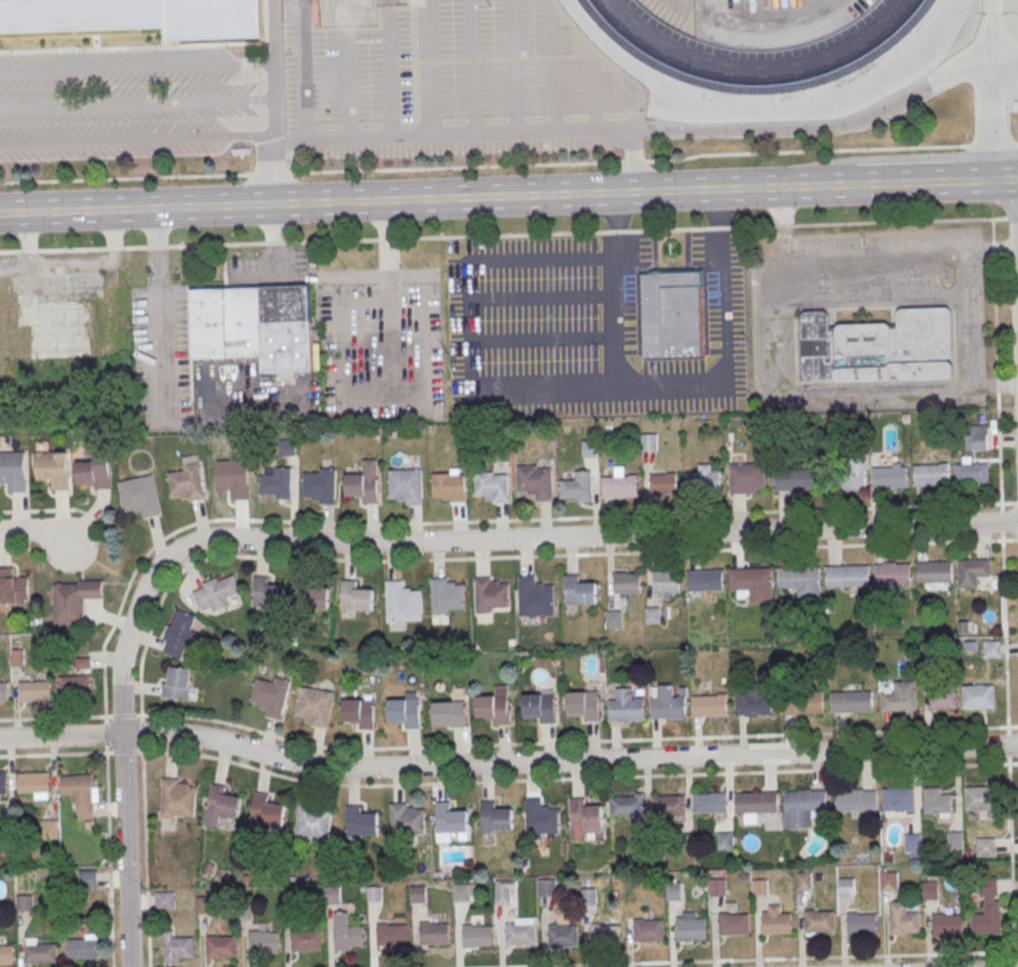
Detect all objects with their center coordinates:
building: (137, 16)
road: (301, 38)
road: (136, 65)
road: (1006, 67)
road: (516, 68)
parking lot: (448, 69)
road: (475, 69)
road: (432, 70)
raceway: (757, 71)
road: (556, 75)
road: (995, 89)
road: (597, 98)
road: (137, 102)
parking lot: (125, 106)
road: (636, 113)
road: (823, 127)
road: (274, 137)
road: (484, 138)
road: (137, 141)
road: (509, 168)
road: (1007, 179)
road: (929, 182)
road: (791, 186)
road: (360, 199)
road: (509, 235)
road: (254, 275)
road: (389, 302)
road: (160, 311)
building: (671, 316)
building: (255, 326)
parking lot: (584, 329)
building: (880, 347)
parking lot: (377, 348)
parking lot: (161, 353)
road: (671, 388)
building: (977, 437)
building: (649, 443)
building: (590, 449)
building: (54, 470)
building: (14, 472)
building: (96, 473)
building: (972, 474)
building: (931, 475)
building: (747, 478)
building: (890, 478)
building: (234, 479)
building: (189, 480)
building: (796, 480)
building: (844, 480)
building: (536, 482)
building: (277, 483)
building: (365, 483)
building: (663, 483)
building: (703, 483)
building: (321, 486)
building: (407, 486)
building: (449, 487)
building: (493, 487)
building: (578, 487)
building: (620, 487)
building: (141, 496)
road: (48, 509)
road: (625, 515)
road: (1001, 521)
road: (38, 531)
road: (497, 539)
road: (13, 548)
road: (495, 556)
building: (934, 572)
building: (972, 572)
building: (893, 574)
building: (847, 577)
building: (706, 581)
building: (667, 582)
building: (800, 583)
building: (628, 584)
building: (753, 584)
building: (14, 588)
building: (580, 592)
building: (218, 593)
building: (268, 594)
building: (490, 595)
building: (312, 596)
building: (447, 597)
building: (535, 597)
building: (357, 599)
building: (75, 601)
building: (403, 603)
building: (653, 616)
building: (614, 620)
building: (180, 635)
building: (991, 651)
road: (1005, 656)
building: (927, 669)
building: (177, 684)
building: (76, 685)
building: (34, 690)
building: (4, 691)
building: (271, 696)
building: (978, 697)
building: (900, 699)
building: (943, 699)
building: (755, 703)
building: (852, 703)
building: (803, 704)
building: (584, 705)
building: (668, 705)
building: (710, 706)
building: (315, 707)
building: (495, 707)
building: (540, 707)
building: (626, 707)
building: (405, 712)
building: (360, 714)
building: (450, 714)
road: (106, 734)
road: (578, 742)
road: (507, 763)
road: (465, 781)
building: (33, 782)
building: (3, 783)
building: (80, 794)
building: (980, 799)
building: (177, 800)
building: (857, 800)
building: (899, 800)
building: (937, 803)
building: (711, 804)
building: (758, 804)
building: (220, 806)
building: (628, 807)
building: (669, 807)
building: (802, 809)
building: (265, 816)
building: (541, 817)
building: (496, 818)
building: (586, 819)
building: (451, 820)
building: (313, 821)
building: (406, 821)
building: (361, 823)
building: (50, 830)
building: (9, 831)
building: (726, 842)
building: (955, 842)
building: (684, 843)
building: (643, 844)
building: (913, 844)
building: (987, 848)
road: (125, 851)
road: (109, 859)
road: (1011, 865)
building: (89, 880)
building: (804, 883)
building: (889, 883)
building: (717, 888)
building: (760, 888)
building: (545, 889)
building: (847, 889)
building: (674, 892)
building: (931, 892)
building: (462, 893)
building: (374, 895)
building: (333, 896)
building: (418, 896)
building: (504, 897)
building: (589, 898)
building: (165, 902)
building: (290, 902)
building: (24, 903)
building: (204, 906)
building: (989, 910)
building: (819, 923)
building: (905, 923)
building: (776, 924)
building: (734, 925)
building: (862, 925)
building: (947, 926)
building: (691, 929)
building: (648, 931)
building: (347, 934)
building: (434, 934)
building: (391, 935)
building: (520, 935)
building: (477, 936)
building: (606, 936)
building: (562, 937)
building: (306, 942)
building: (264, 943)
building: (221, 947)
building: (176, 949)
building: (81, 950)
building: (41, 954)
building: (6, 956)
road: (759, 958)

